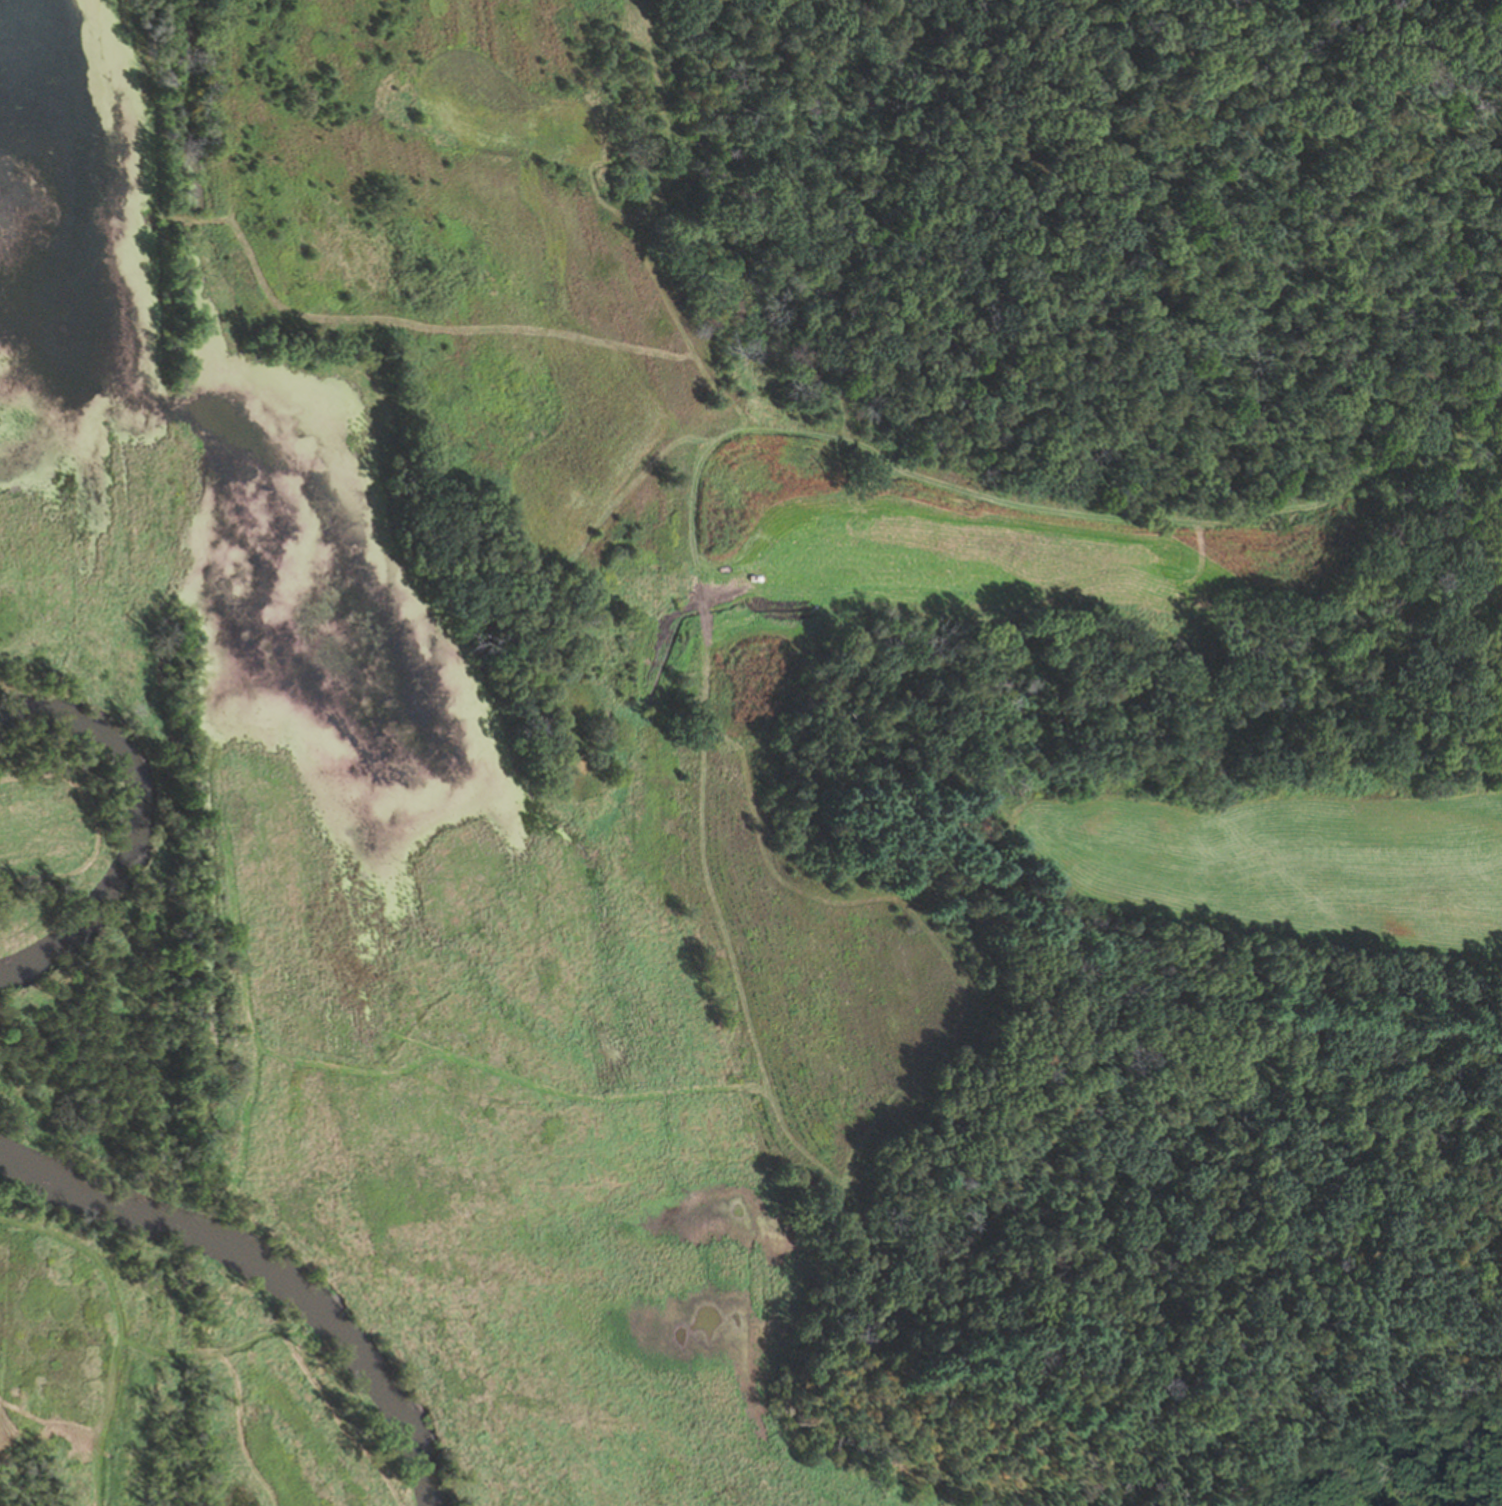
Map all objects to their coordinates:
river: (117, 831)
river: (267, 1271)

